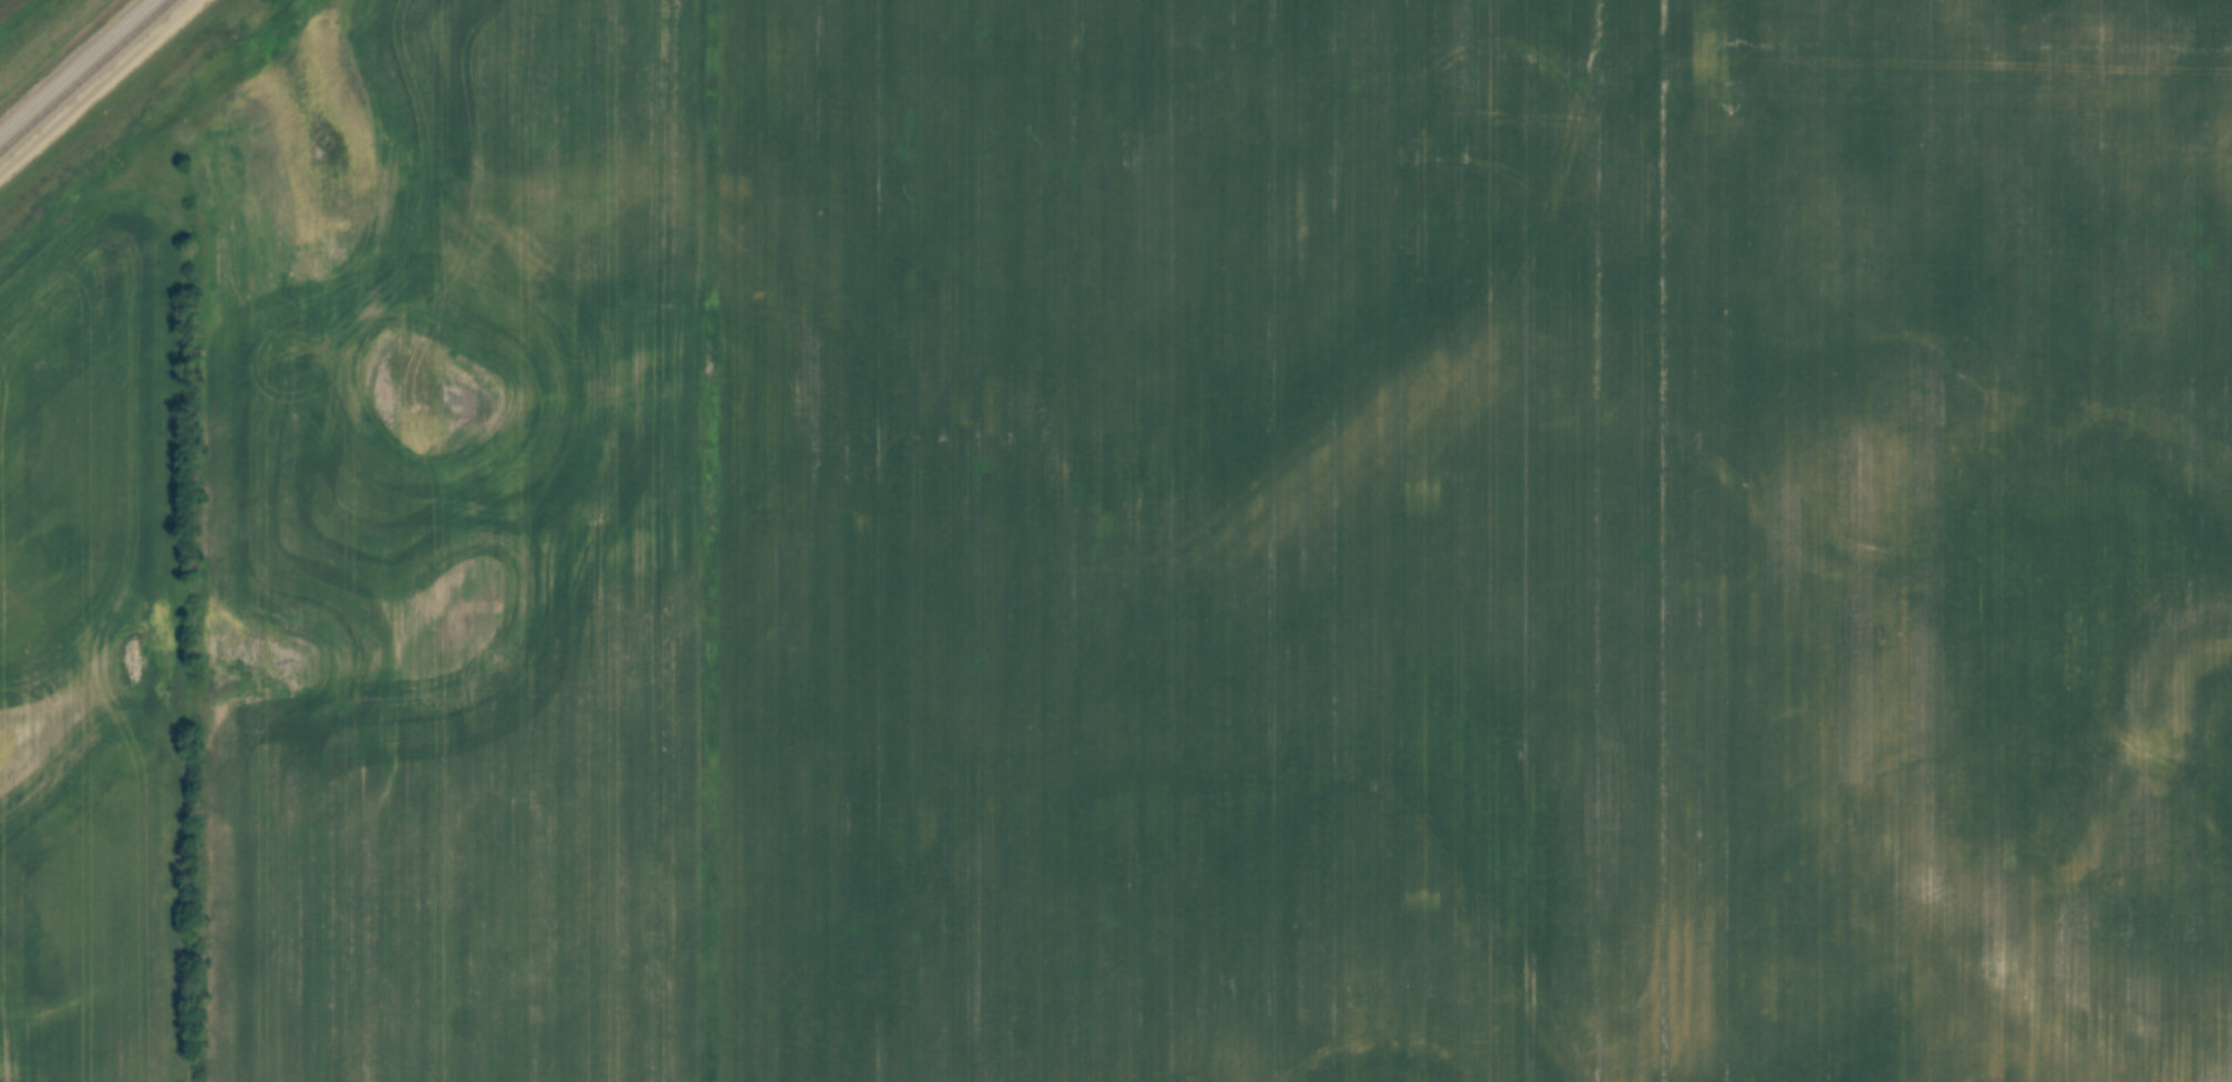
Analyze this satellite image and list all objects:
railway: (77, 69)
railway: (87, 78)

